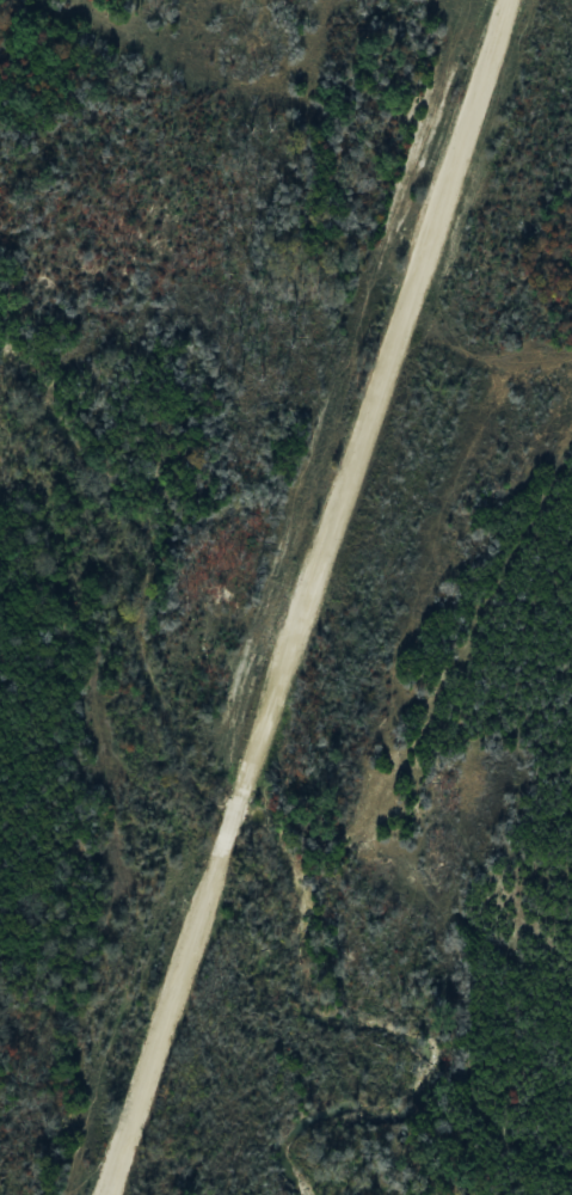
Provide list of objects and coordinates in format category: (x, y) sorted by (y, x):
road: (305, 596)

